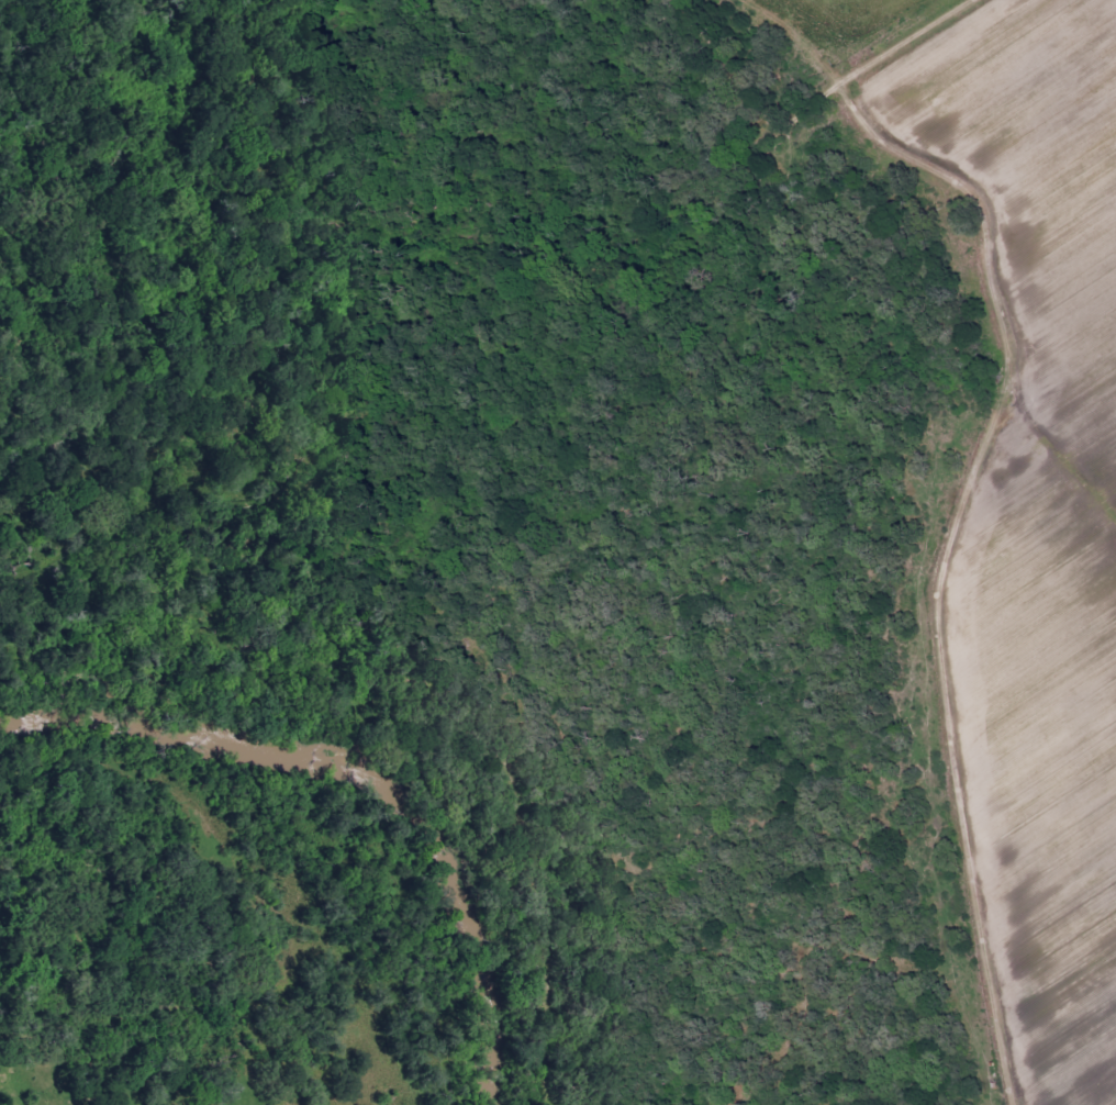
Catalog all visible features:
river: (365, 772)

